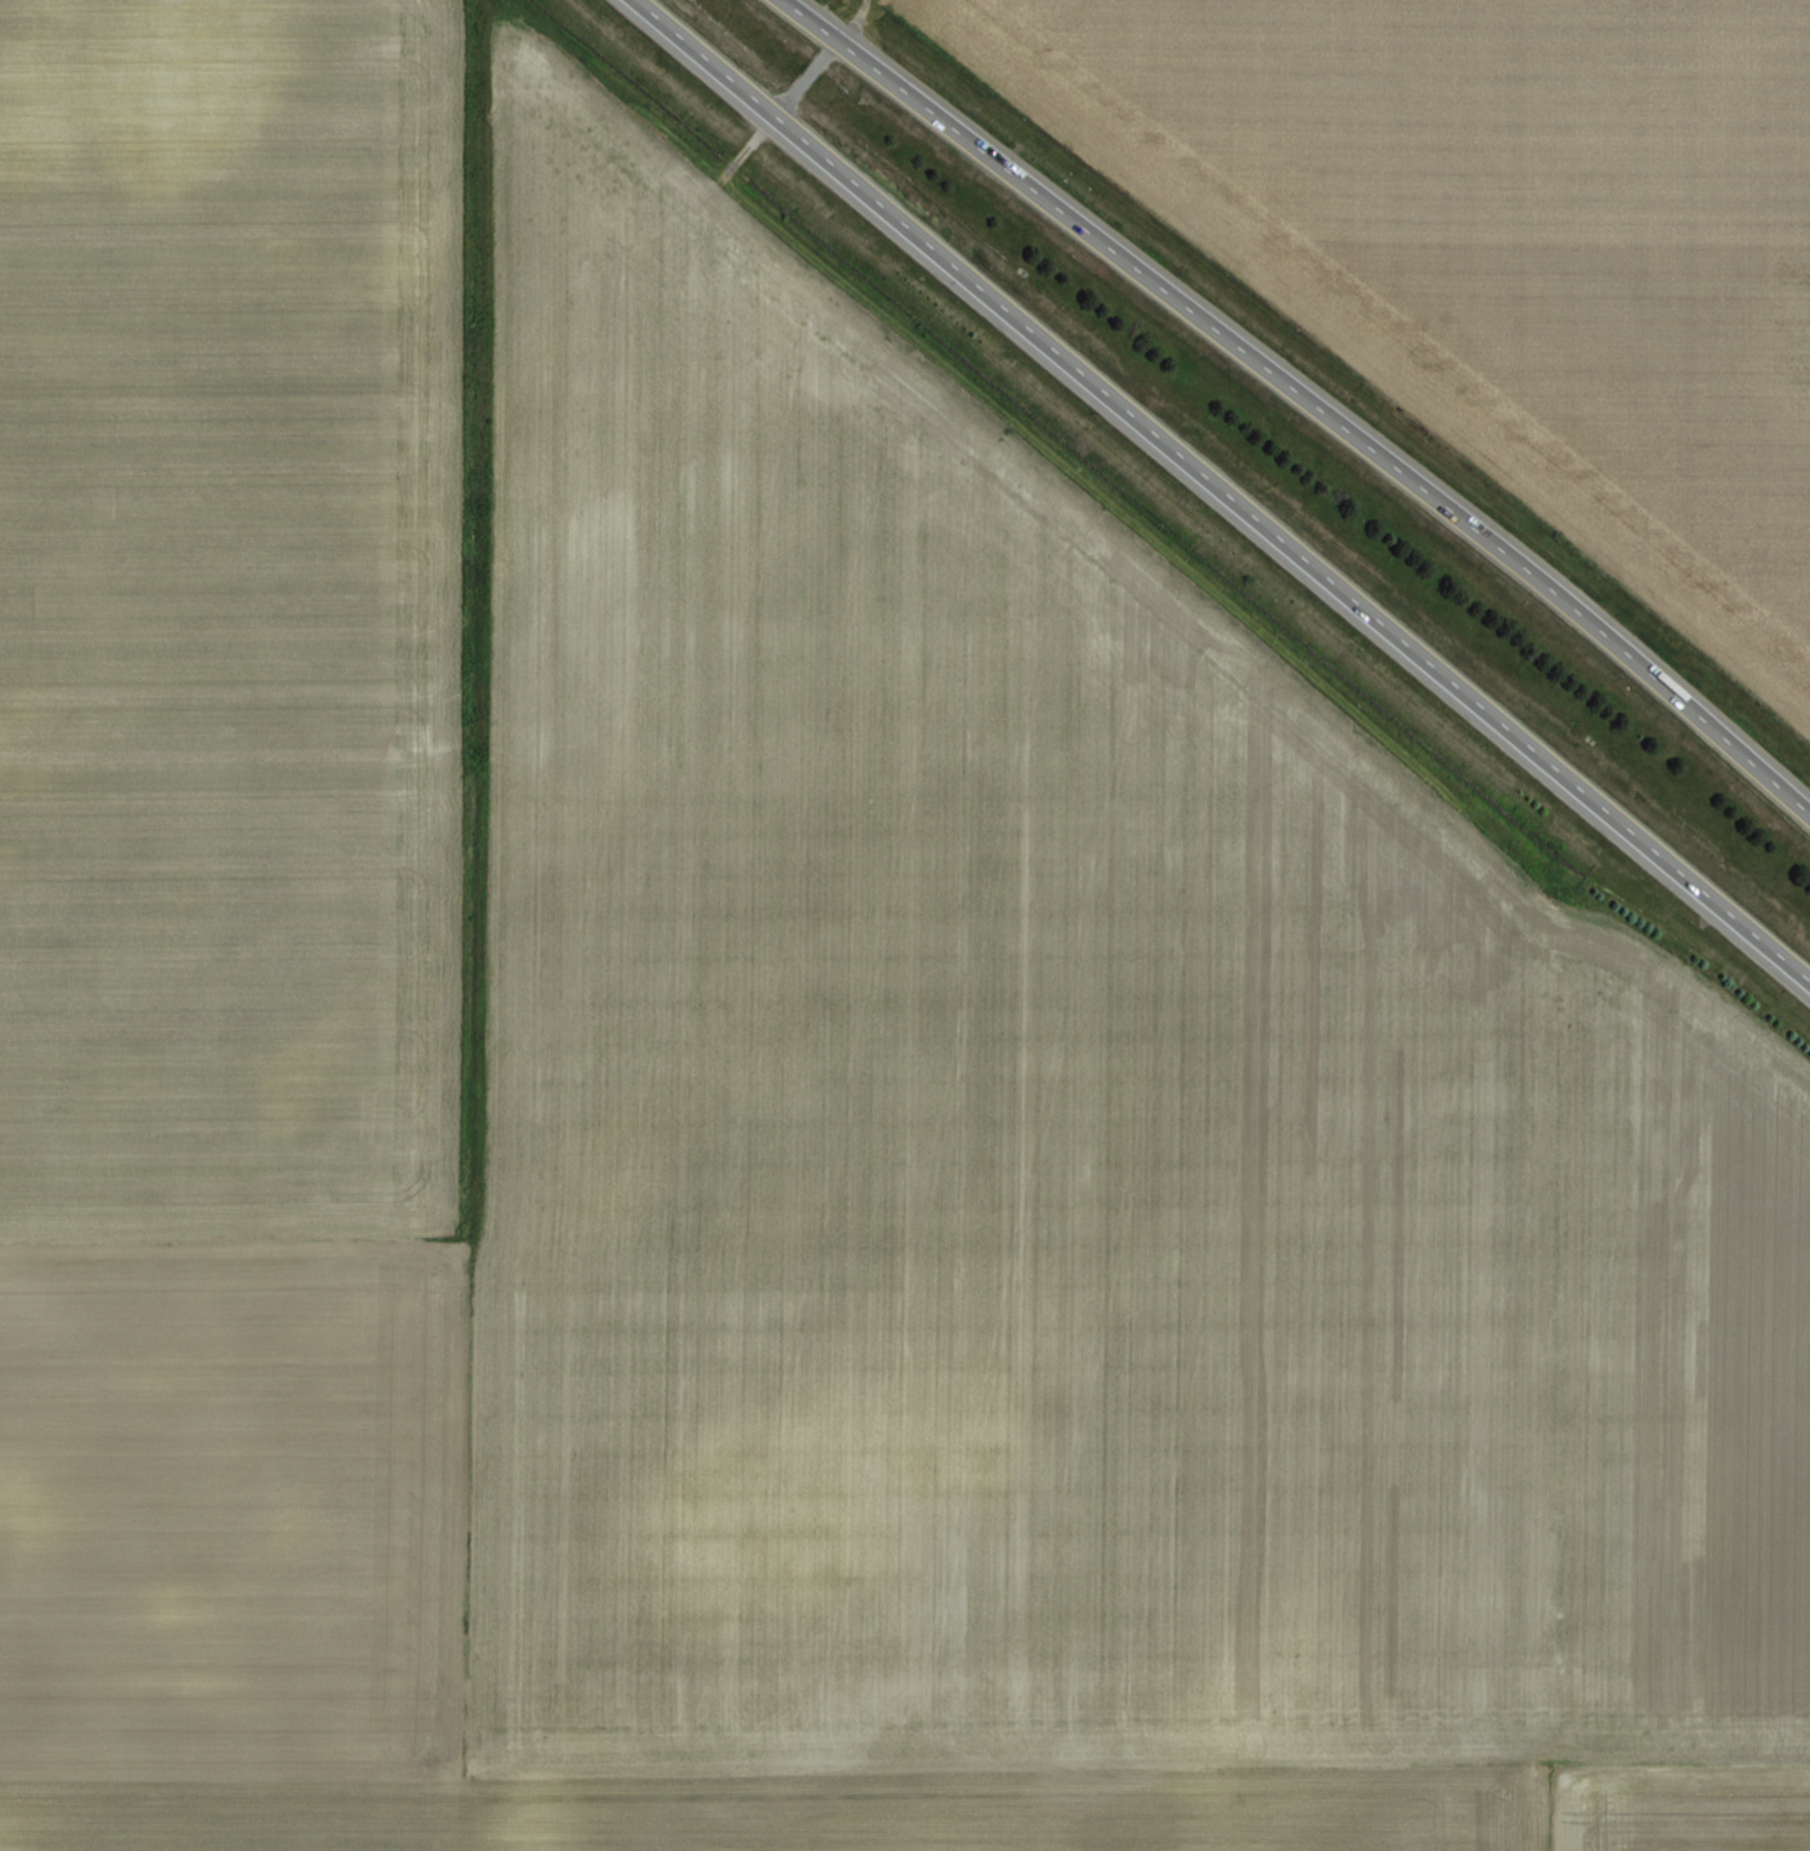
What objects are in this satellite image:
road: (815, 59)
road: (1308, 393)
road: (1218, 494)

